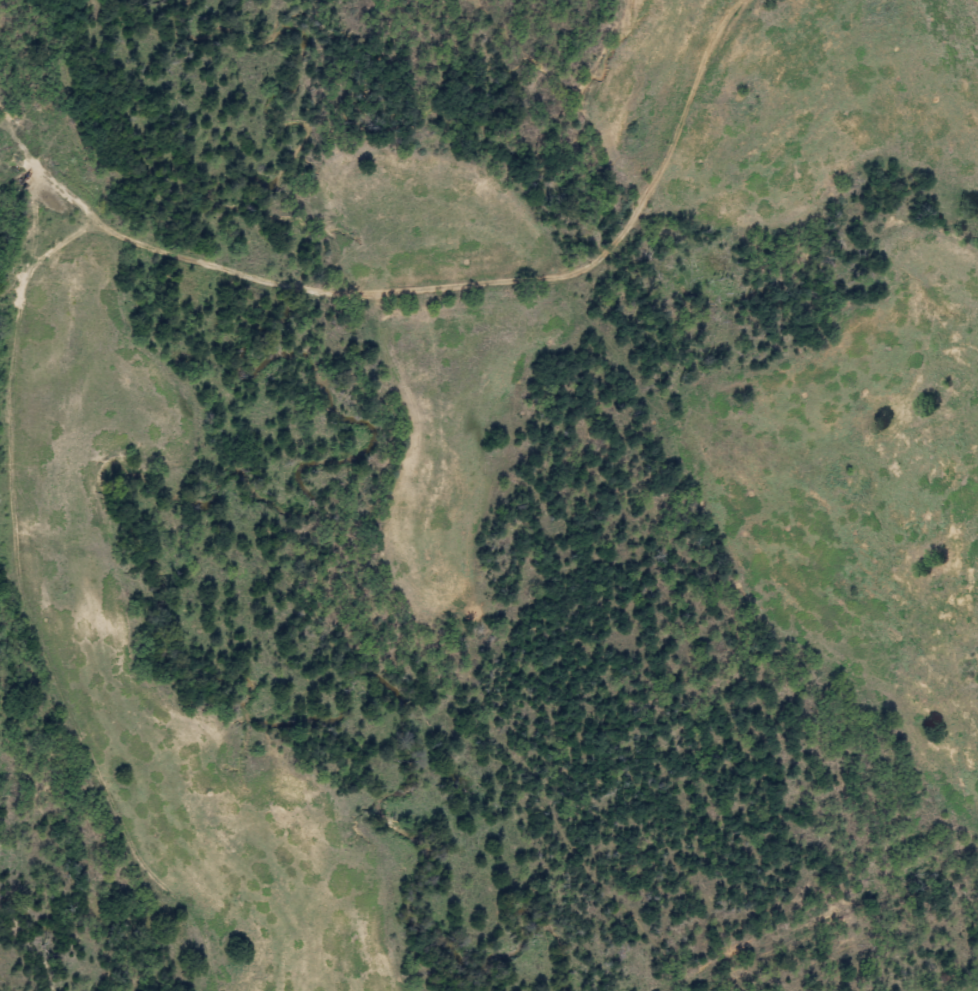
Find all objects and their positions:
road: (635, 164)

